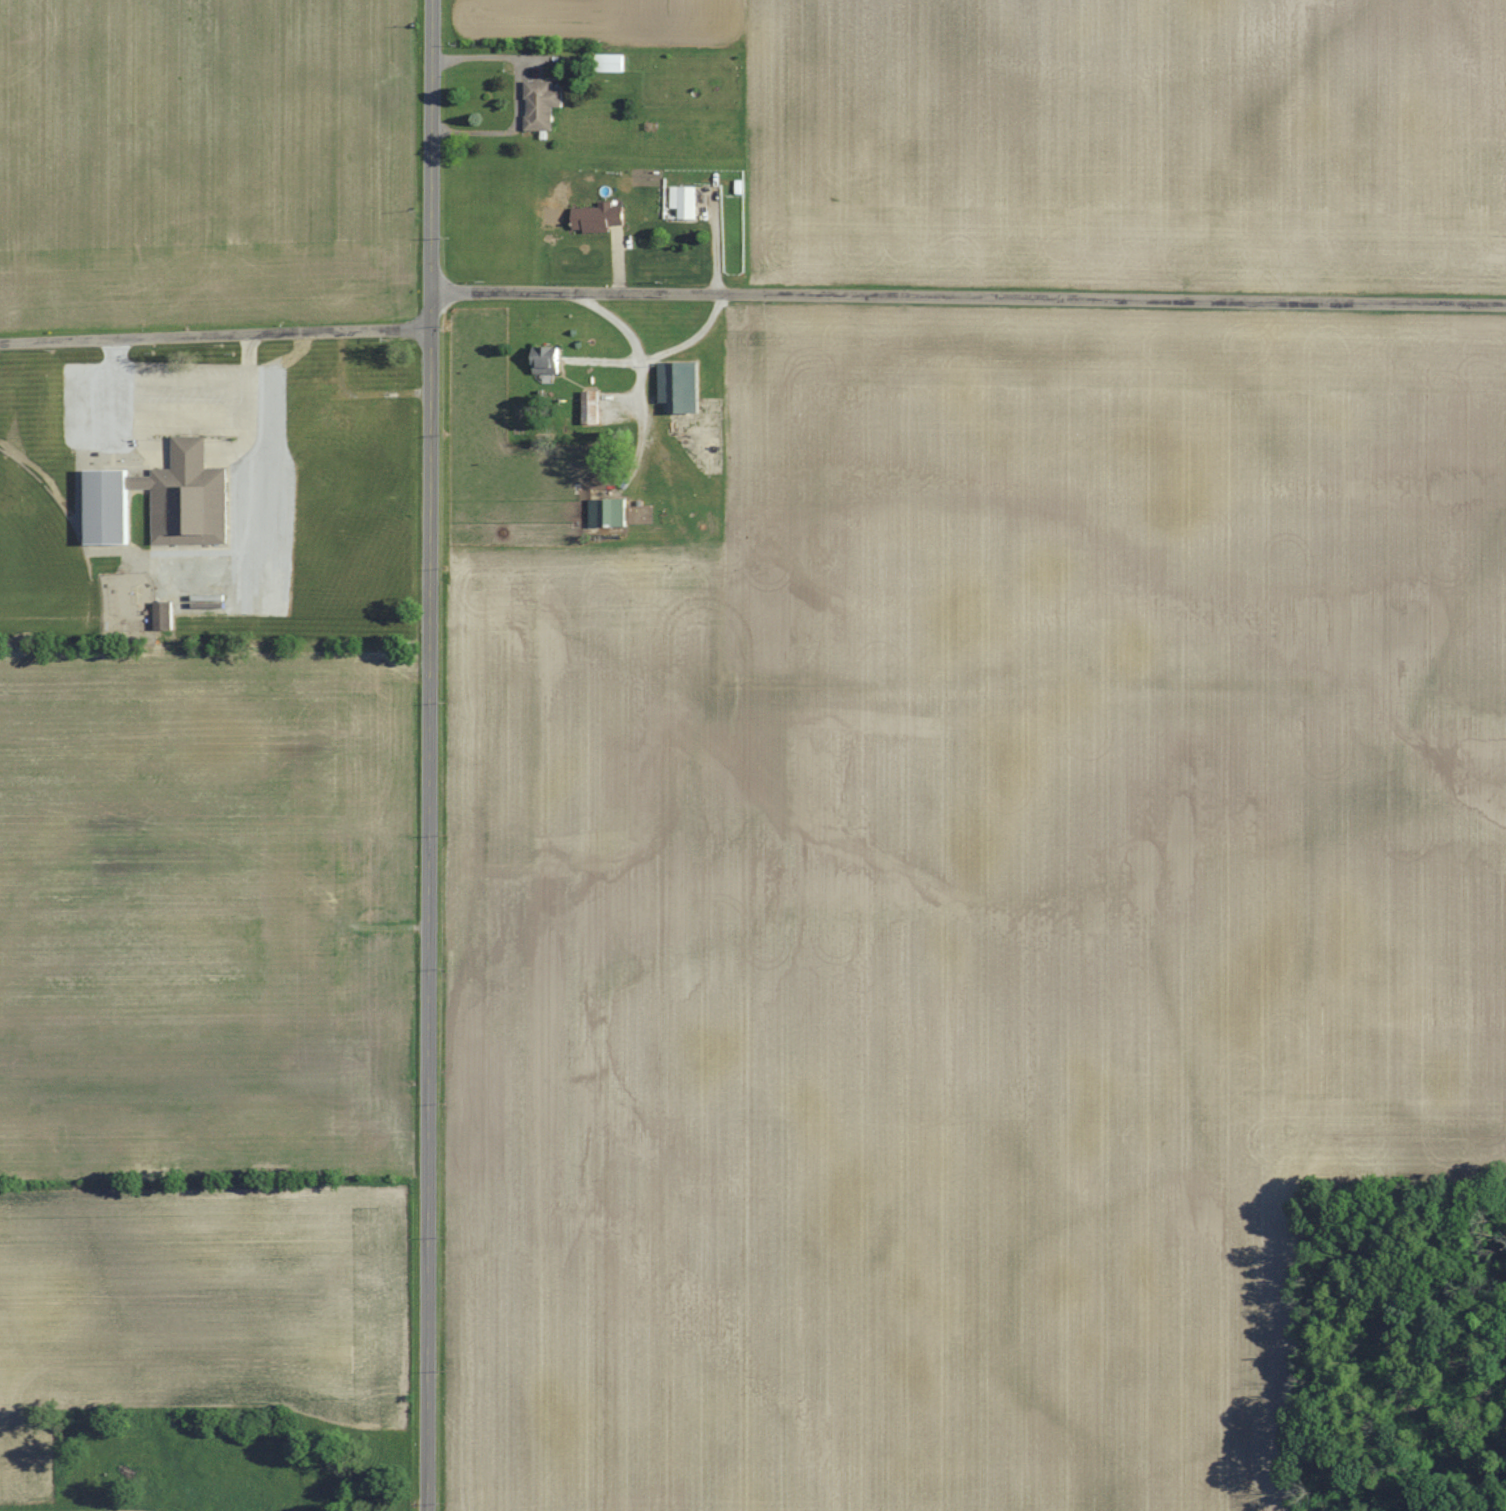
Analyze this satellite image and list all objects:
building: (611, 63)
building: (543, 105)
building: (685, 202)
building: (598, 219)
road: (968, 297)
road: (215, 336)
road: (692, 340)
building: (549, 361)
road: (641, 364)
building: (682, 387)
building: (592, 409)
building: (350, 419)
building: (164, 501)
building: (609, 514)
building: (164, 616)
road: (431, 755)

